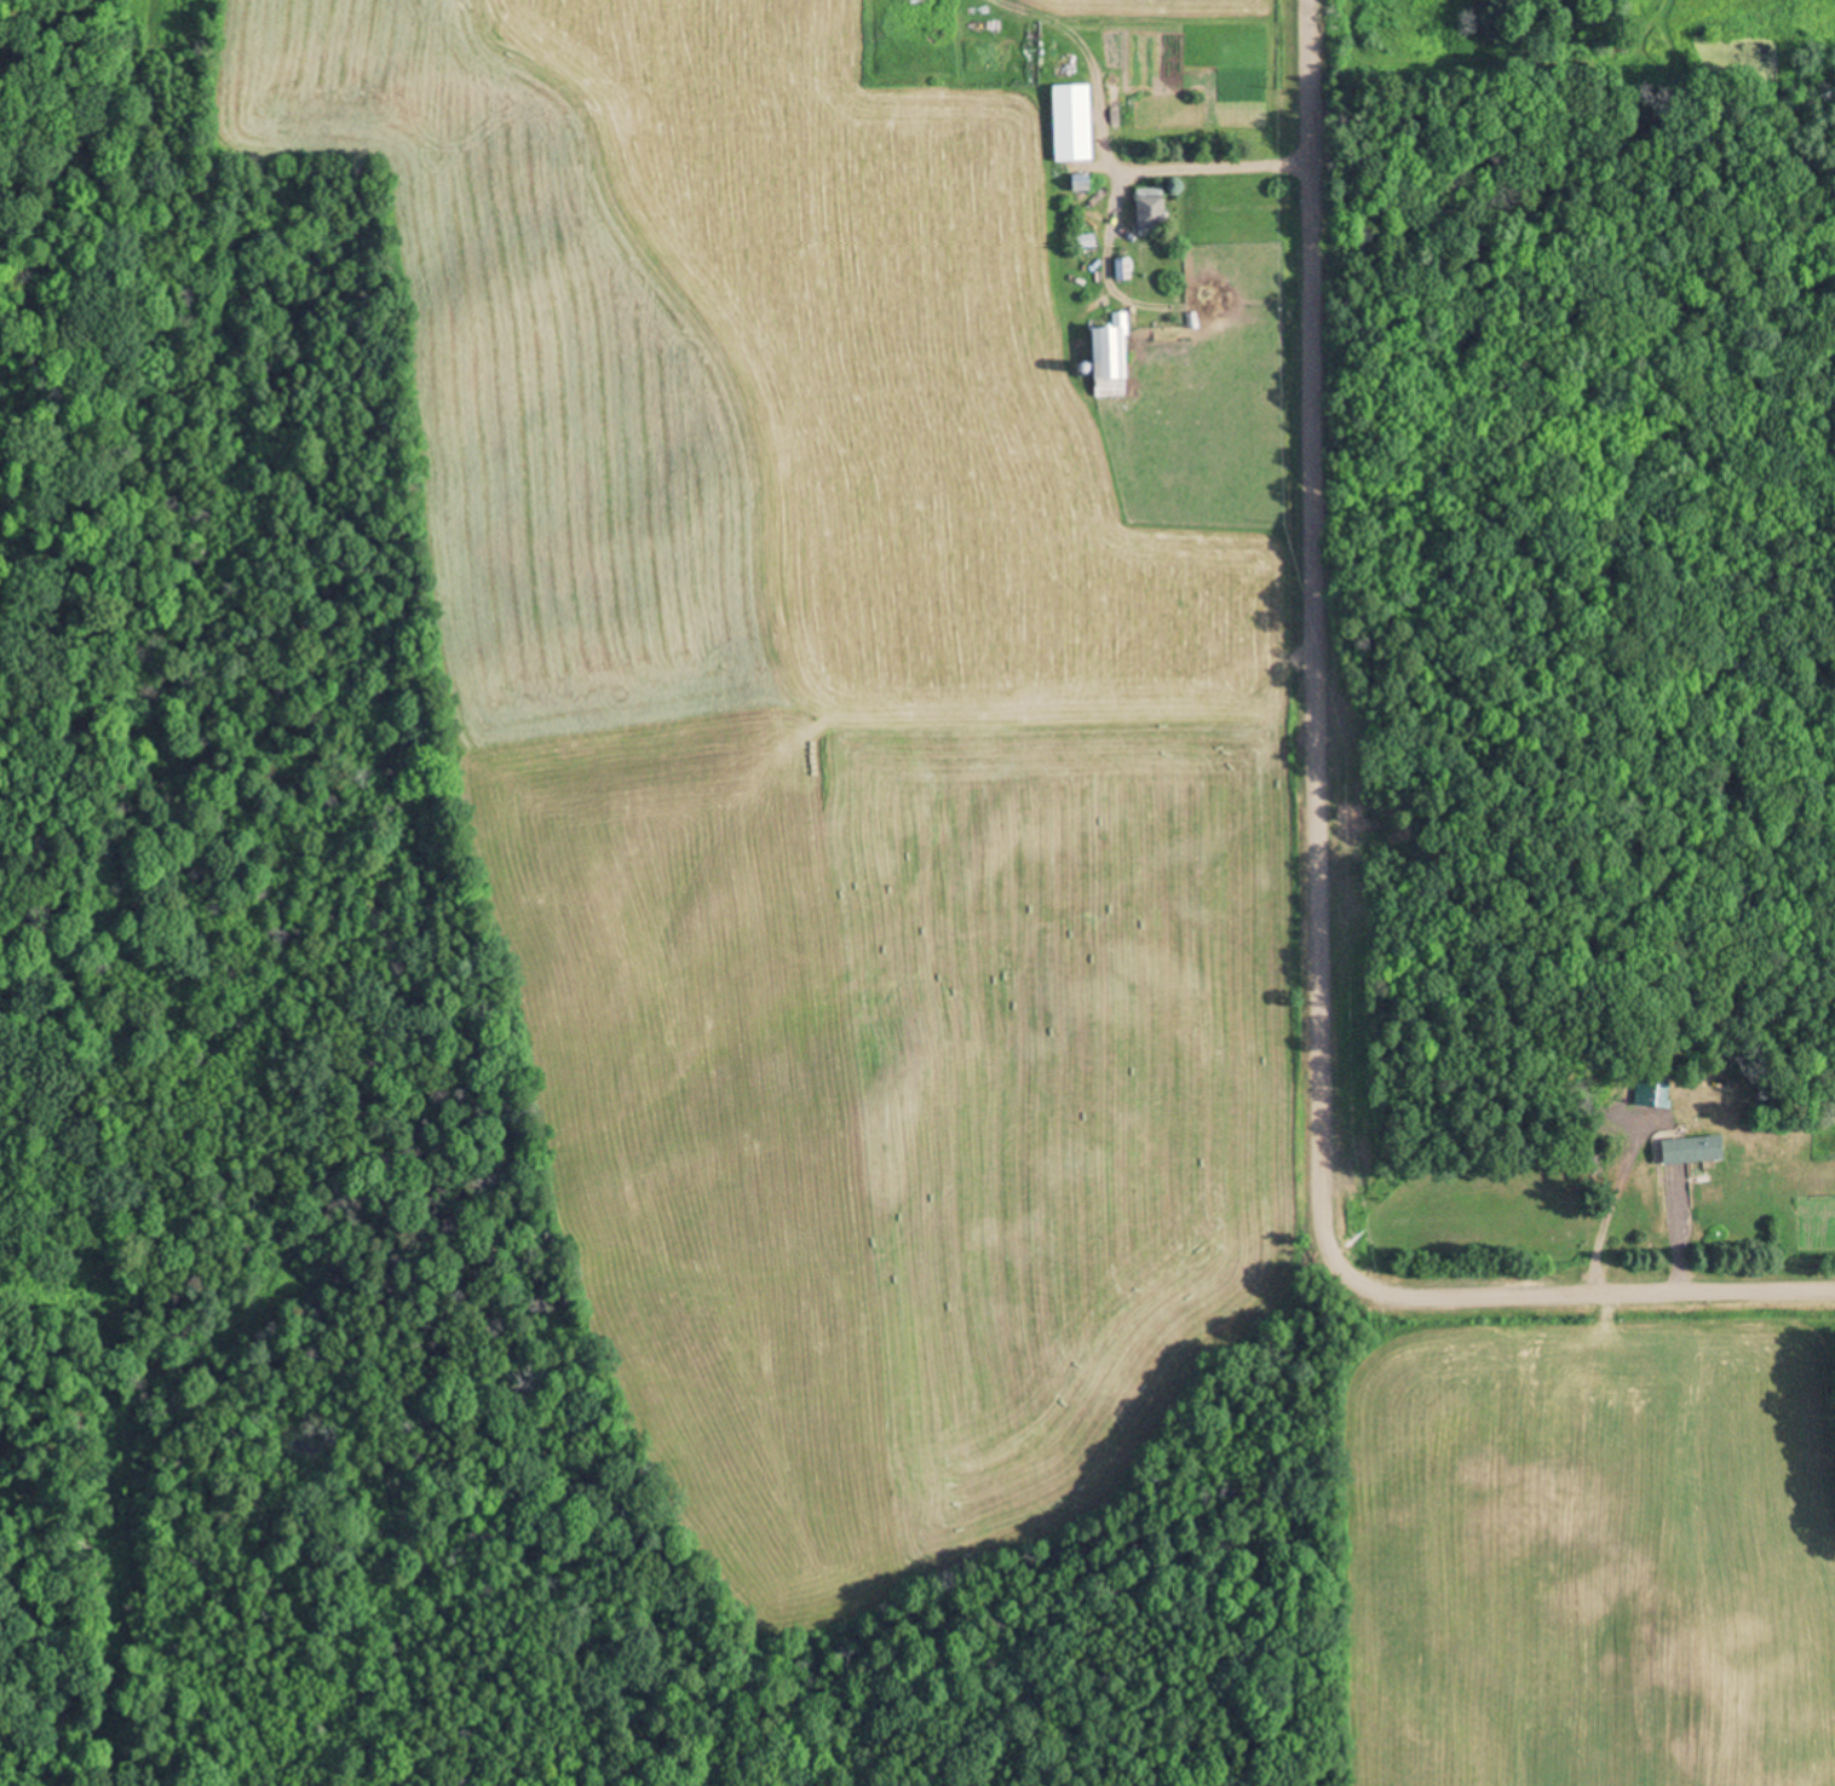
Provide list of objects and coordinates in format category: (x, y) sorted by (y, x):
building: (1078, 140)
building: (1146, 212)
building: (1083, 244)
building: (1120, 271)
building: (1106, 362)
road: (1321, 888)
building: (1655, 1090)
building: (1689, 1153)

